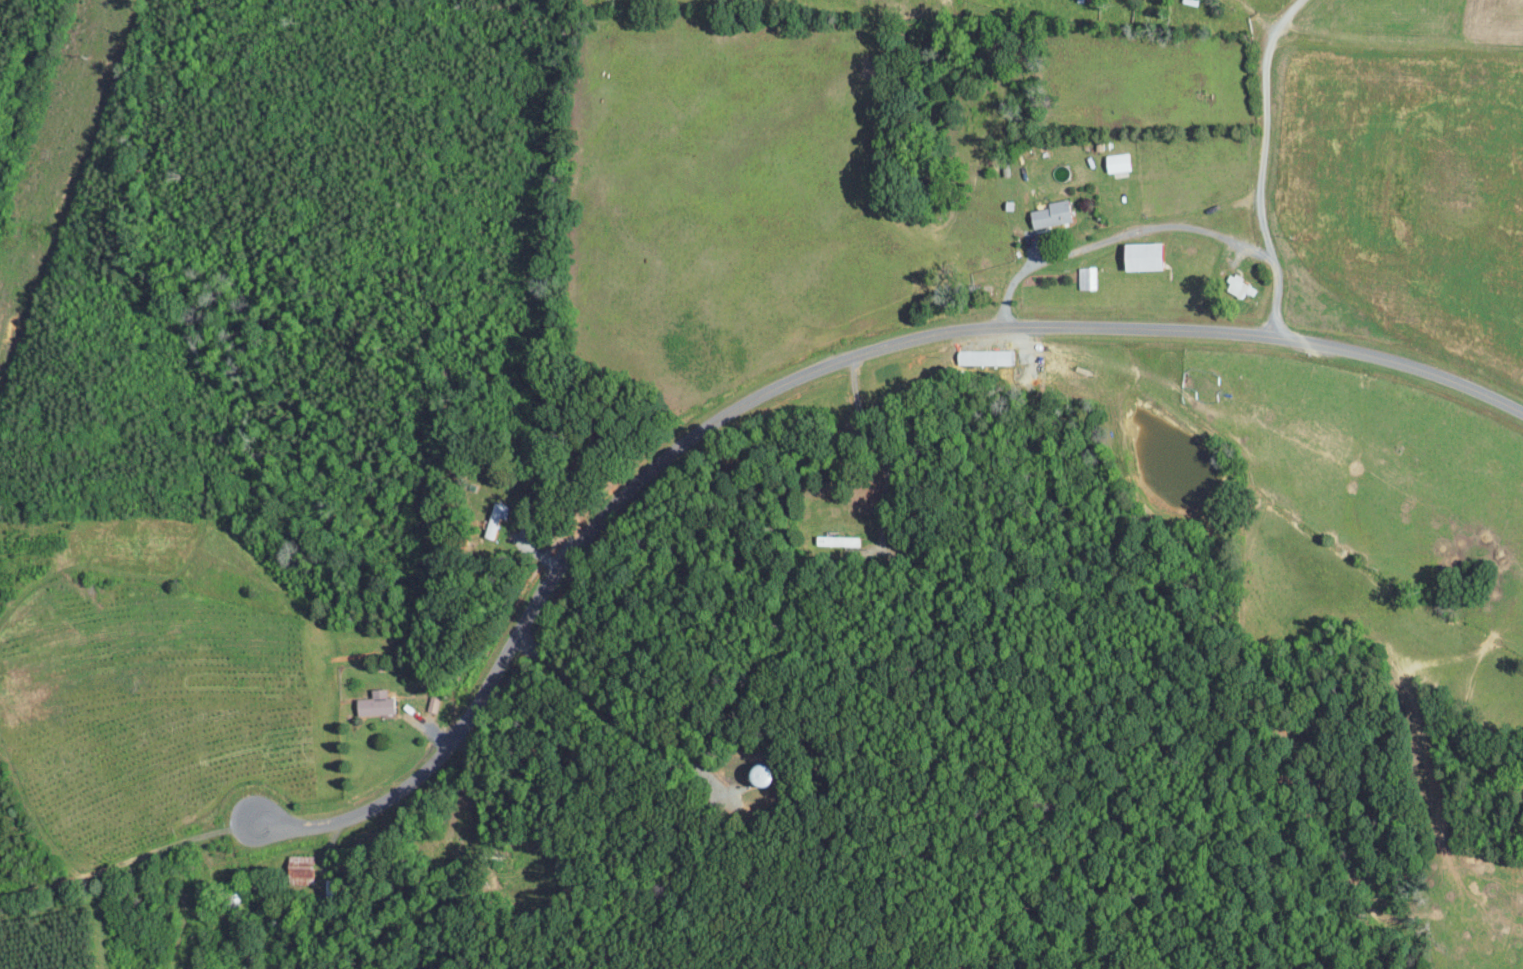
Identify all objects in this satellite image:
power tower: (88, 57)
building: (1115, 162)
road: (1261, 164)
building: (1048, 214)
road: (1119, 234)
building: (1138, 256)
building: (1084, 278)
building: (1238, 286)
building: (983, 356)
road: (691, 435)
road: (880, 449)
building: (494, 520)
building: (834, 539)
building: (372, 702)
building: (753, 773)
building: (301, 868)

